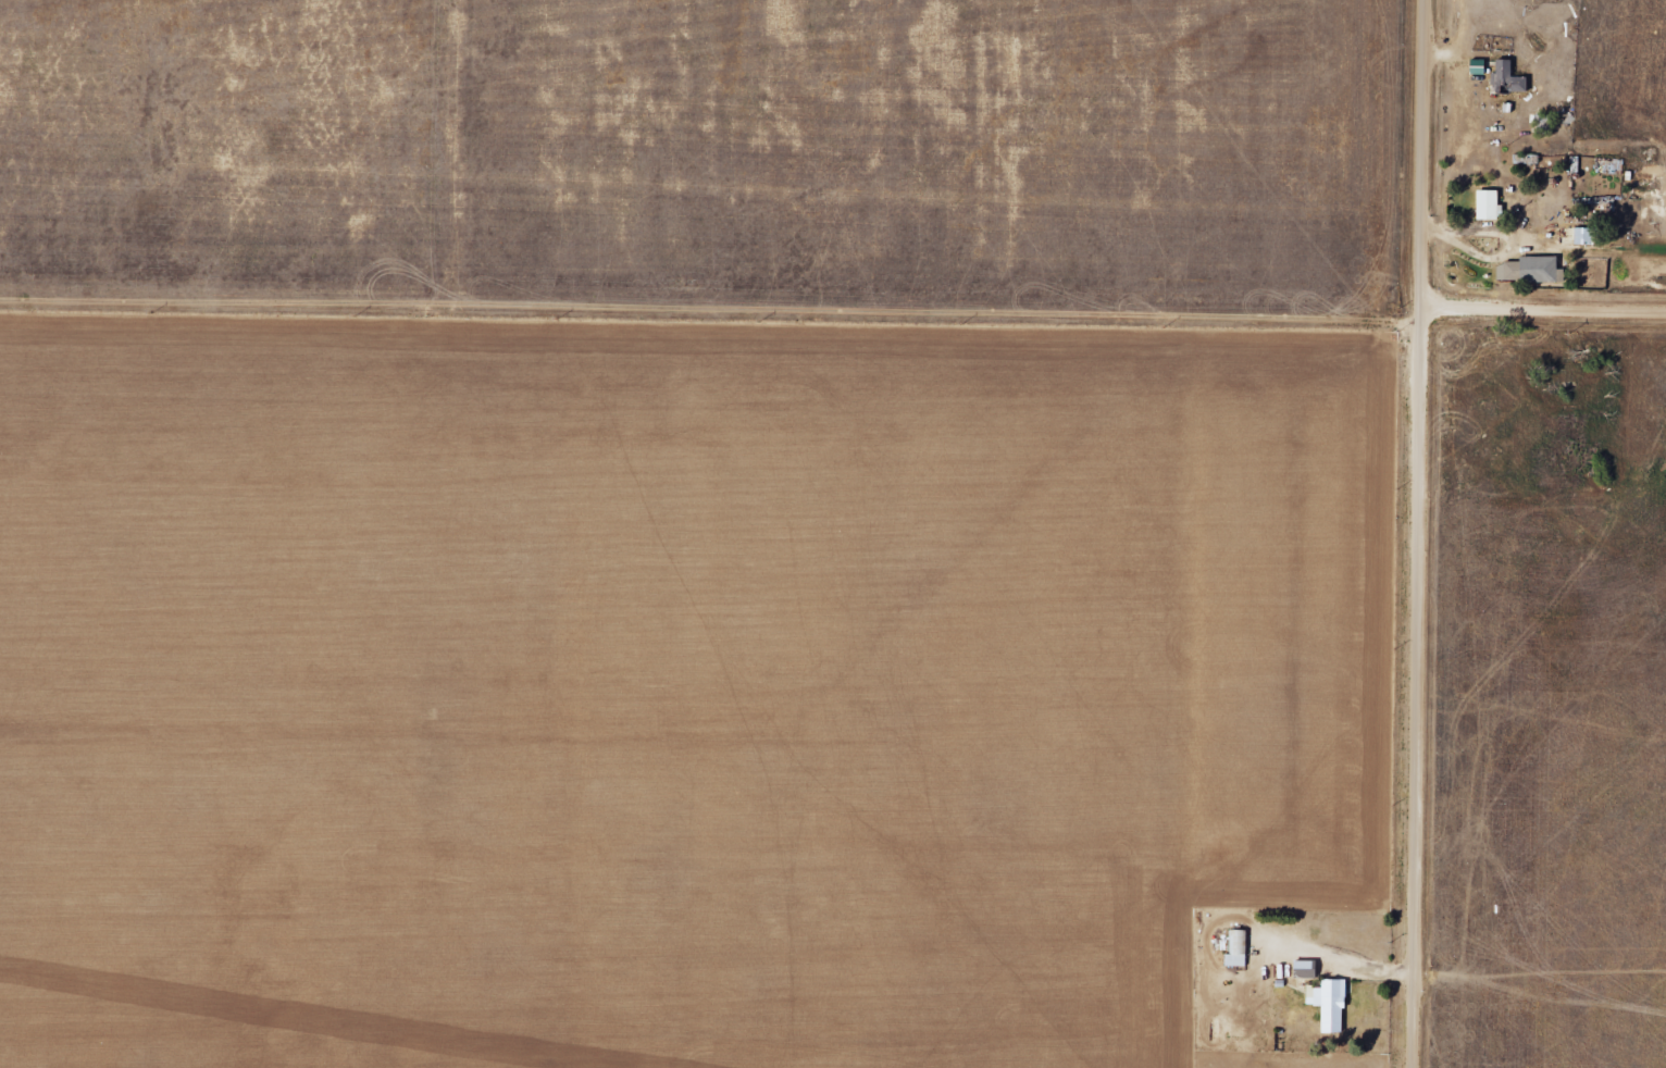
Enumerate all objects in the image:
building: (1491, 206)
building: (1588, 236)
road: (1543, 305)
road: (1418, 533)
building: (1333, 1005)

